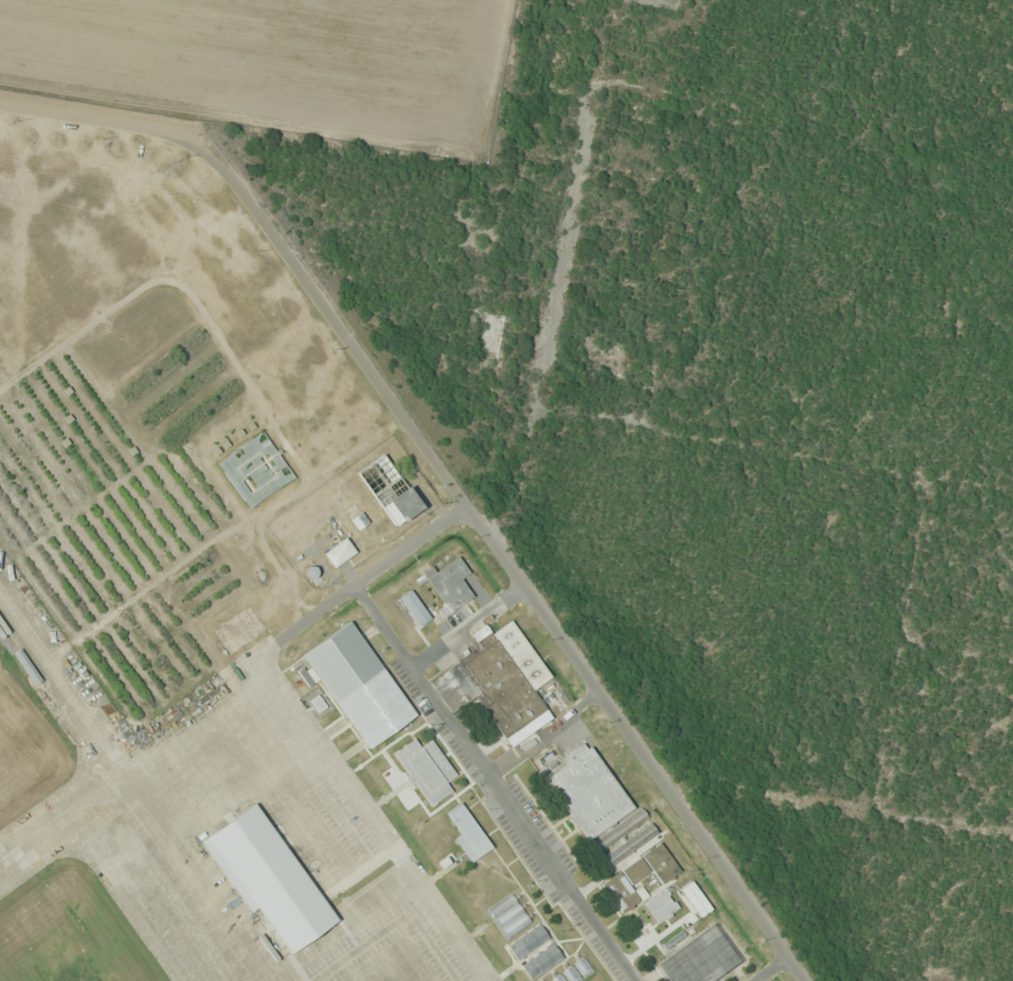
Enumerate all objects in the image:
road: (90, 117)
road: (562, 254)
road: (774, 449)
building: (399, 507)
road: (501, 552)
building: (339, 553)
road: (382, 582)
building: (448, 585)
airport: (293, 629)
road: (905, 655)
airport taxiway: (53, 678)
building: (499, 684)
building: (357, 685)
building: (426, 770)
building: (599, 807)
road: (847, 830)
building: (468, 833)
airport taxiway: (29, 850)
airport apron: (251, 852)
road: (555, 869)
building: (639, 877)
building: (275, 880)
building: (660, 907)

